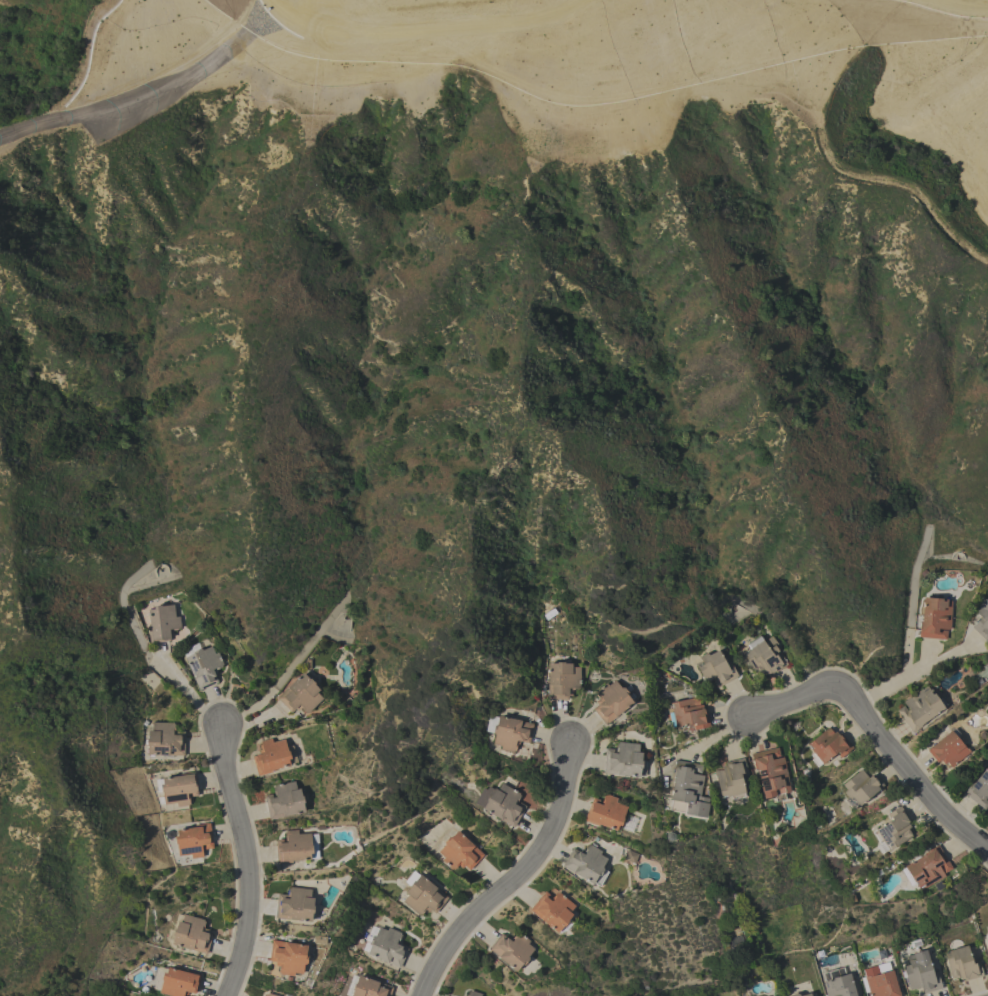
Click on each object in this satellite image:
building: (934, 618)
building: (982, 620)
building: (162, 623)
building: (764, 656)
building: (204, 666)
building: (715, 668)
road: (158, 669)
road: (912, 674)
road: (280, 679)
building: (562, 680)
building: (300, 695)
building: (611, 701)
building: (920, 708)
building: (688, 713)
building: (508, 731)
road: (877, 738)
building: (165, 740)
building: (827, 746)
building: (948, 748)
building: (271, 756)
building: (624, 760)
building: (771, 773)
building: (730, 778)
building: (860, 786)
building: (179, 788)
building: (979, 789)
building: (687, 790)
building: (284, 801)
building: (501, 803)
building: (605, 812)
building: (892, 830)
building: (193, 840)
building: (293, 847)
building: (458, 852)
road: (243, 860)
building: (586, 864)
building: (927, 868)
road: (513, 879)
building: (422, 894)
building: (295, 905)
building: (553, 911)
building: (987, 931)
building: (191, 934)
building: (384, 945)
building: (511, 950)
building: (288, 957)
building: (961, 964)
building: (920, 973)
building: (178, 982)
building: (881, 982)
building: (837, 983)
building: (366, 987)
building: (473, 993)
building: (794, 994)
building: (270, 995)
building: (805, 995)

